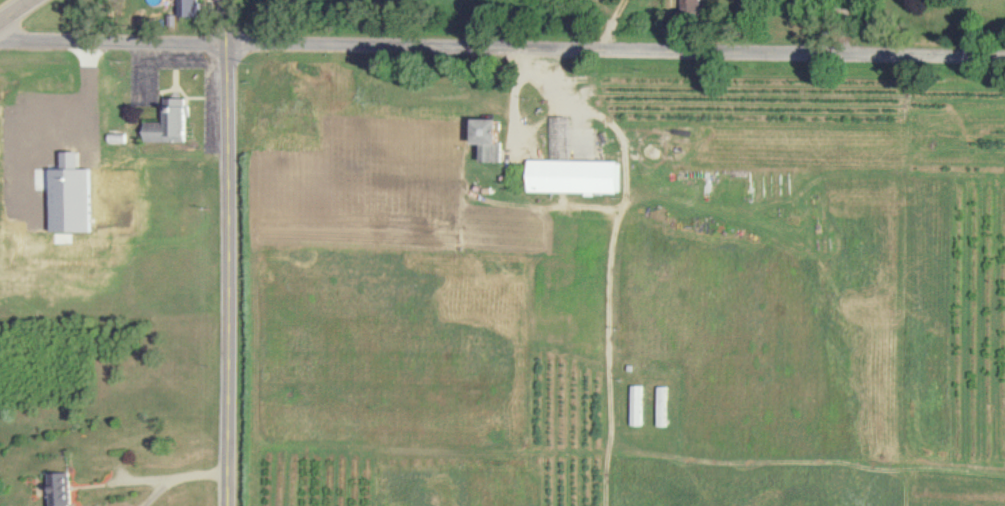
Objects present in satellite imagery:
building: (693, 6)
building: (189, 8)
road: (20, 13)
road: (845, 28)
road: (112, 47)
road: (615, 54)
building: (168, 124)
building: (494, 139)
building: (578, 175)
building: (70, 196)
road: (227, 253)
building: (638, 406)
road: (173, 476)
building: (63, 490)
road: (156, 492)

